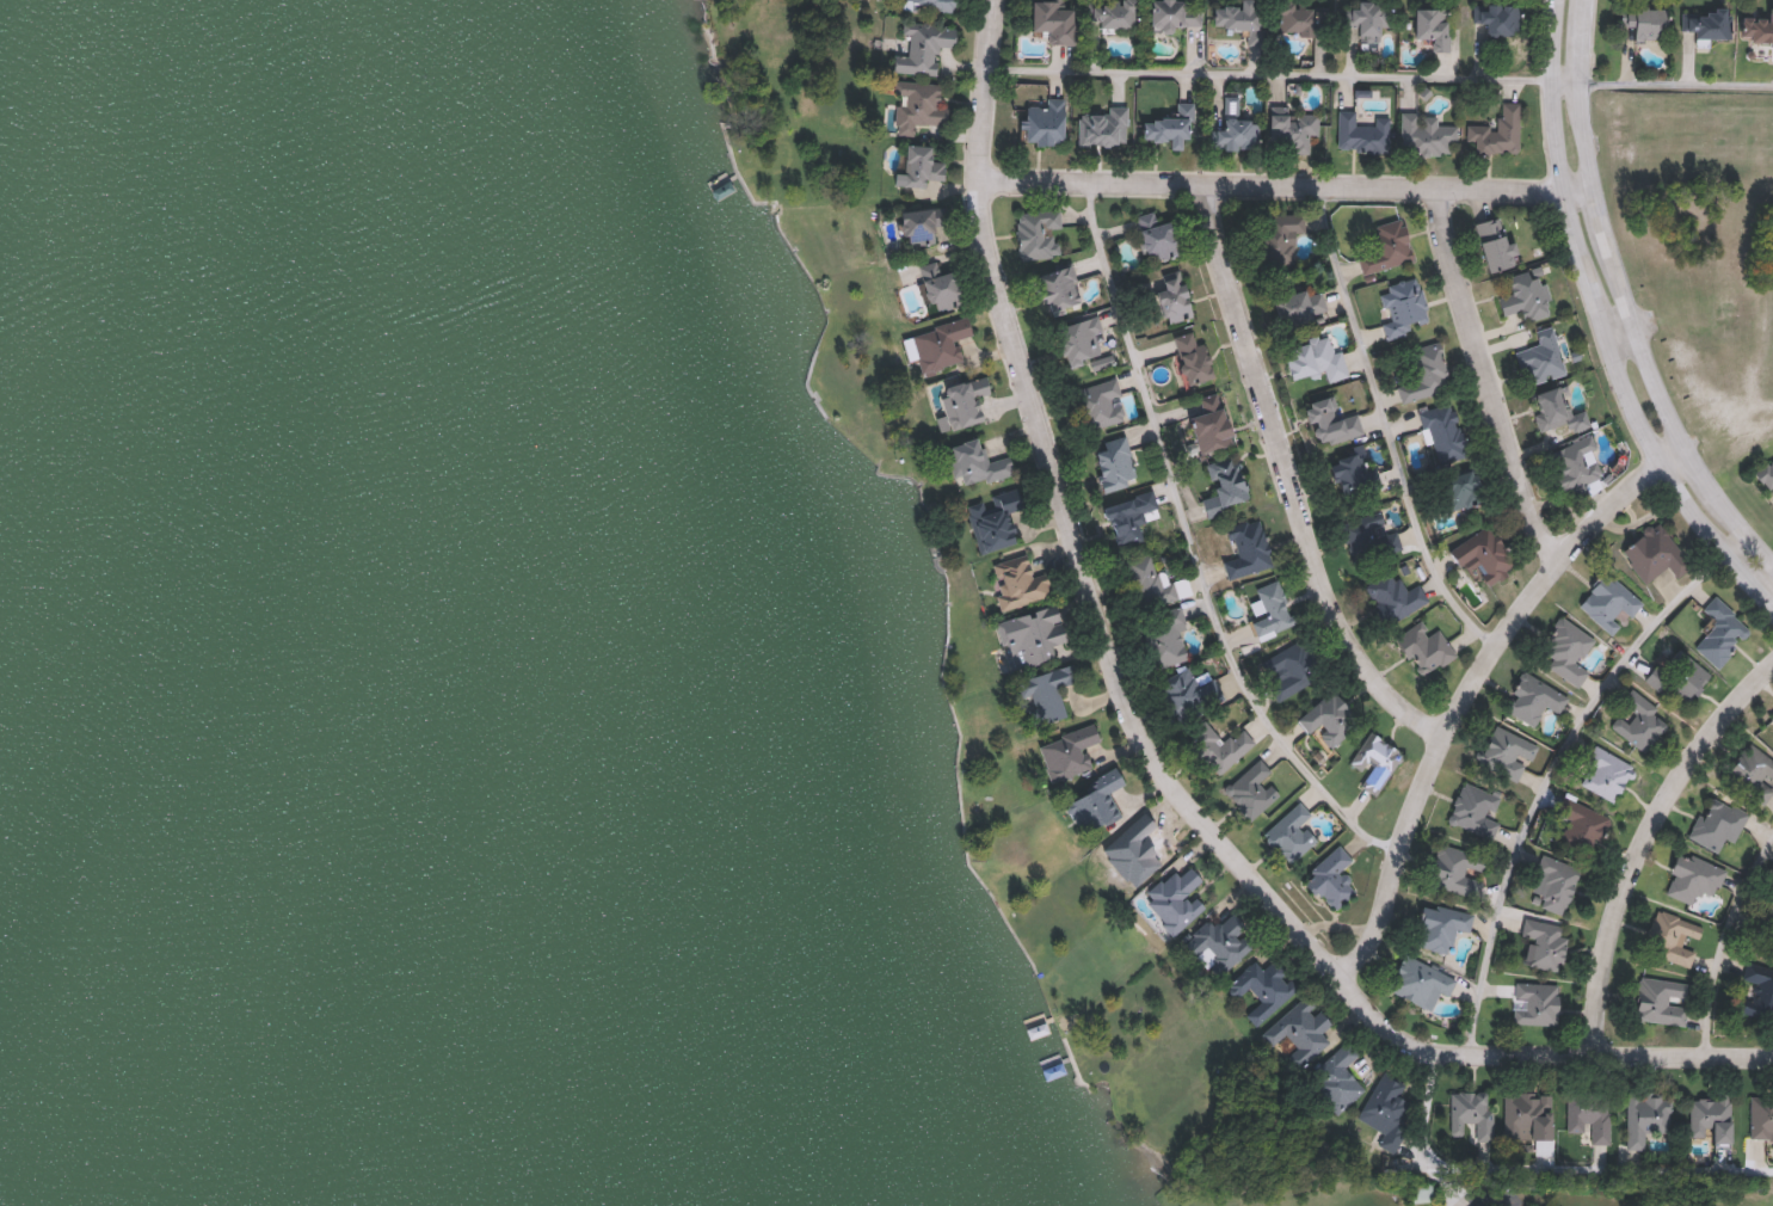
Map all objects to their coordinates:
building: (931, 4)
building: (1174, 13)
building: (1115, 14)
building: (1235, 16)
building: (1367, 17)
building: (1298, 18)
building: (1497, 18)
building: (1052, 20)
building: (1643, 23)
building: (1705, 23)
building: (1432, 26)
building: (1757, 30)
building: (923, 49)
road: (1285, 74)
road: (1677, 84)
building: (917, 105)
building: (270, 107)
building: (1044, 122)
building: (1102, 127)
building: (1166, 128)
building: (1291, 129)
building: (1360, 133)
building: (1496, 133)
building: (1229, 134)
building: (1424, 136)
building: (917, 167)
road: (1286, 180)
building: (919, 224)
building: (1036, 234)
building: (1155, 236)
building: (1275, 240)
building: (1389, 245)
building: (1494, 245)
building: (211, 248)
building: (94, 259)
building: (937, 285)
building: (1055, 289)
building: (1169, 296)
building: (1526, 296)
road: (1626, 297)
building: (1298, 307)
building: (1403, 307)
road: (1602, 325)
road: (1620, 330)
building: (1077, 340)
building: (936, 346)
building: (1541, 356)
building: (1190, 358)
building: (1312, 359)
building: (1423, 375)
road: (1484, 375)
building: (965, 401)
building: (1101, 405)
building: (1556, 411)
building: (1329, 422)
road: (1385, 422)
building: (1207, 424)
building: (1442, 432)
building: (973, 463)
building: (1110, 463)
building: (1575, 463)
building: (1350, 472)
building: (1767, 474)
road: (1289, 476)
building: (1225, 485)
building: (1460, 488)
building: (1127, 517)
building: (991, 519)
building: (1369, 535)
road: (1734, 540)
road: (1194, 547)
building: (1246, 549)
building: (1482, 554)
building: (1654, 554)
building: (1150, 582)
building: (1016, 583)
road: (1767, 589)
building: (1393, 596)
building: (1607, 603)
building: (1268, 609)
building: (1719, 633)
building: (1029, 636)
building: (1162, 639)
building: (1423, 648)
building: (1564, 651)
building: (1289, 671)
building: (1677, 677)
road: (1471, 683)
building: (1047, 693)
building: (1178, 695)
building: (1533, 700)
building: (1772, 716)
building: (1326, 719)
building: (1639, 722)
road: (1145, 742)
building: (1218, 747)
building: (1067, 753)
building: (1507, 753)
building: (1374, 762)
building: (1752, 773)
building: (1606, 774)
road: (1549, 779)
building: (1250, 790)
building: (1094, 802)
building: (1475, 810)
building: (1581, 825)
building: (1717, 825)
building: (1291, 833)
road: (1642, 841)
building: (1135, 850)
building: (1454, 870)
building: (1330, 879)
building: (1697, 879)
building: (1552, 885)
building: (1172, 899)
building: (1766, 921)
building: (1440, 925)
building: (1672, 939)
road: (1720, 941)
building: (1218, 943)
building: (1543, 943)
building: (1420, 982)
building: (1262, 986)
building: (1759, 991)
building: (1661, 1001)
building: (1534, 1004)
building: (1298, 1029)
building: (1054, 1071)
building: (1336, 1079)
building: (1385, 1108)
building: (1471, 1113)
building: (1526, 1115)
building: (1588, 1115)
building: (1645, 1116)
building: (1710, 1118)
building: (1761, 1118)
road: (1543, 1183)
road: (1492, 1198)

